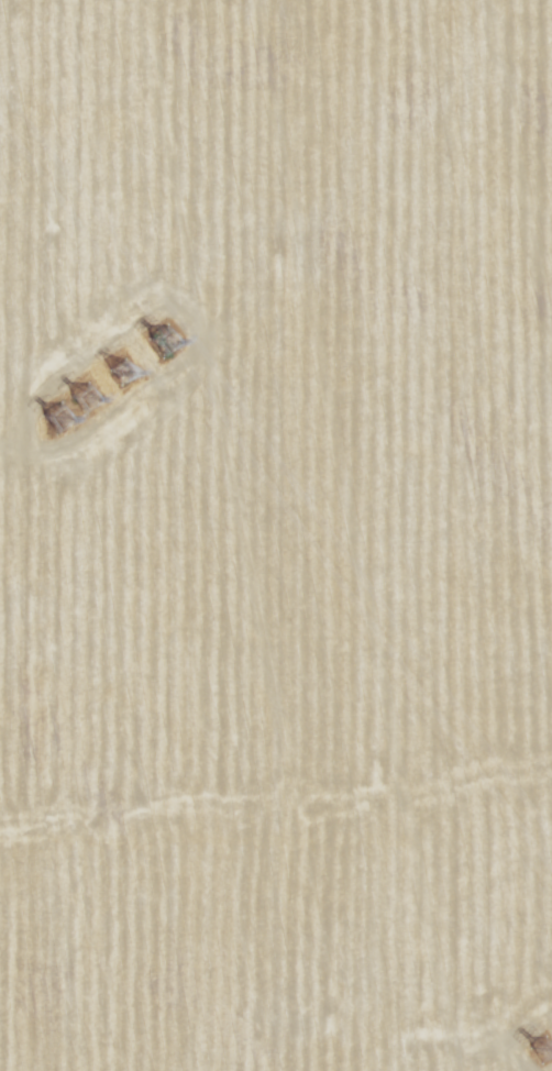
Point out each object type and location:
power tower: (168, 343)
power tower: (125, 368)
power tower: (63, 410)
power tower: (537, 1056)

